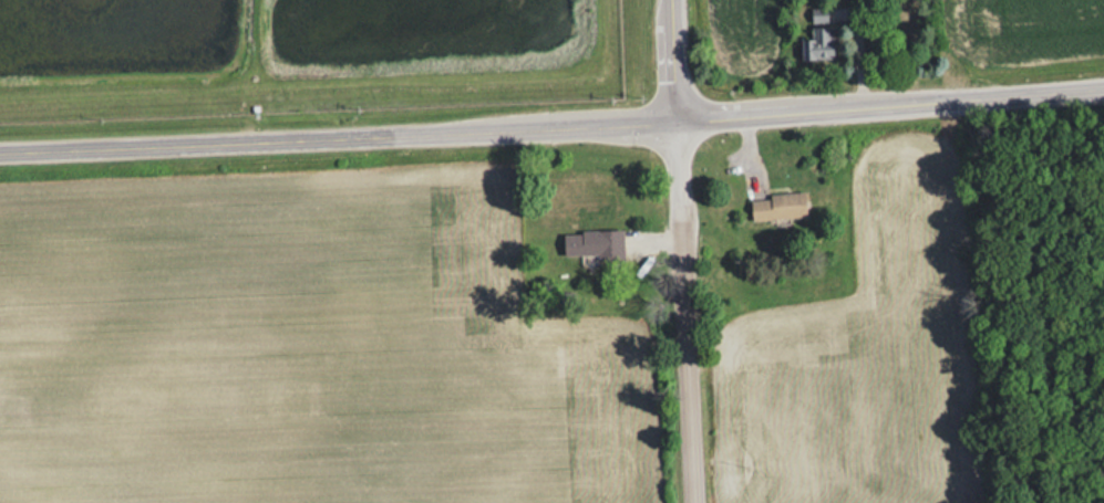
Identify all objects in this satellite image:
building: (819, 36)
road: (679, 59)
road: (551, 124)
building: (776, 206)
building: (592, 243)
road: (689, 311)

